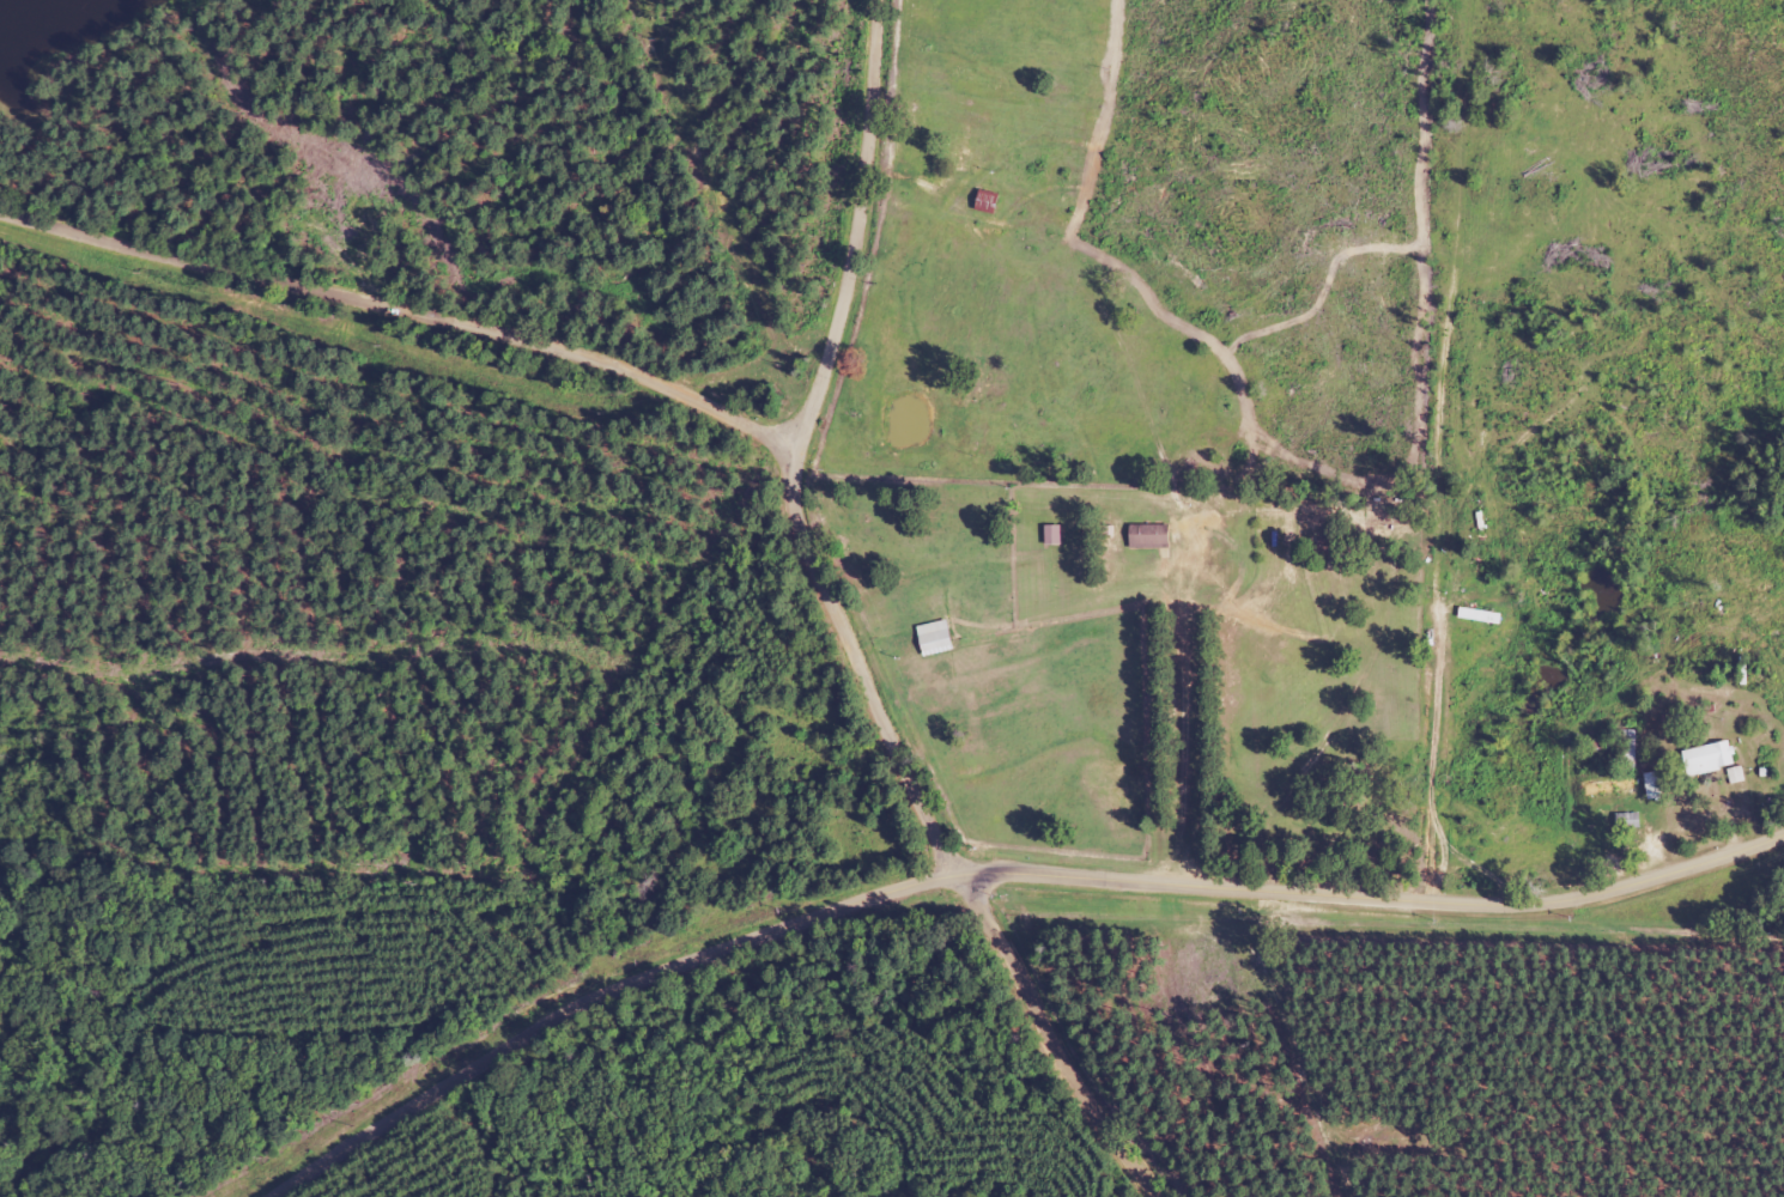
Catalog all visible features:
road: (421, 323)
road: (872, 637)
road: (1002, 865)

